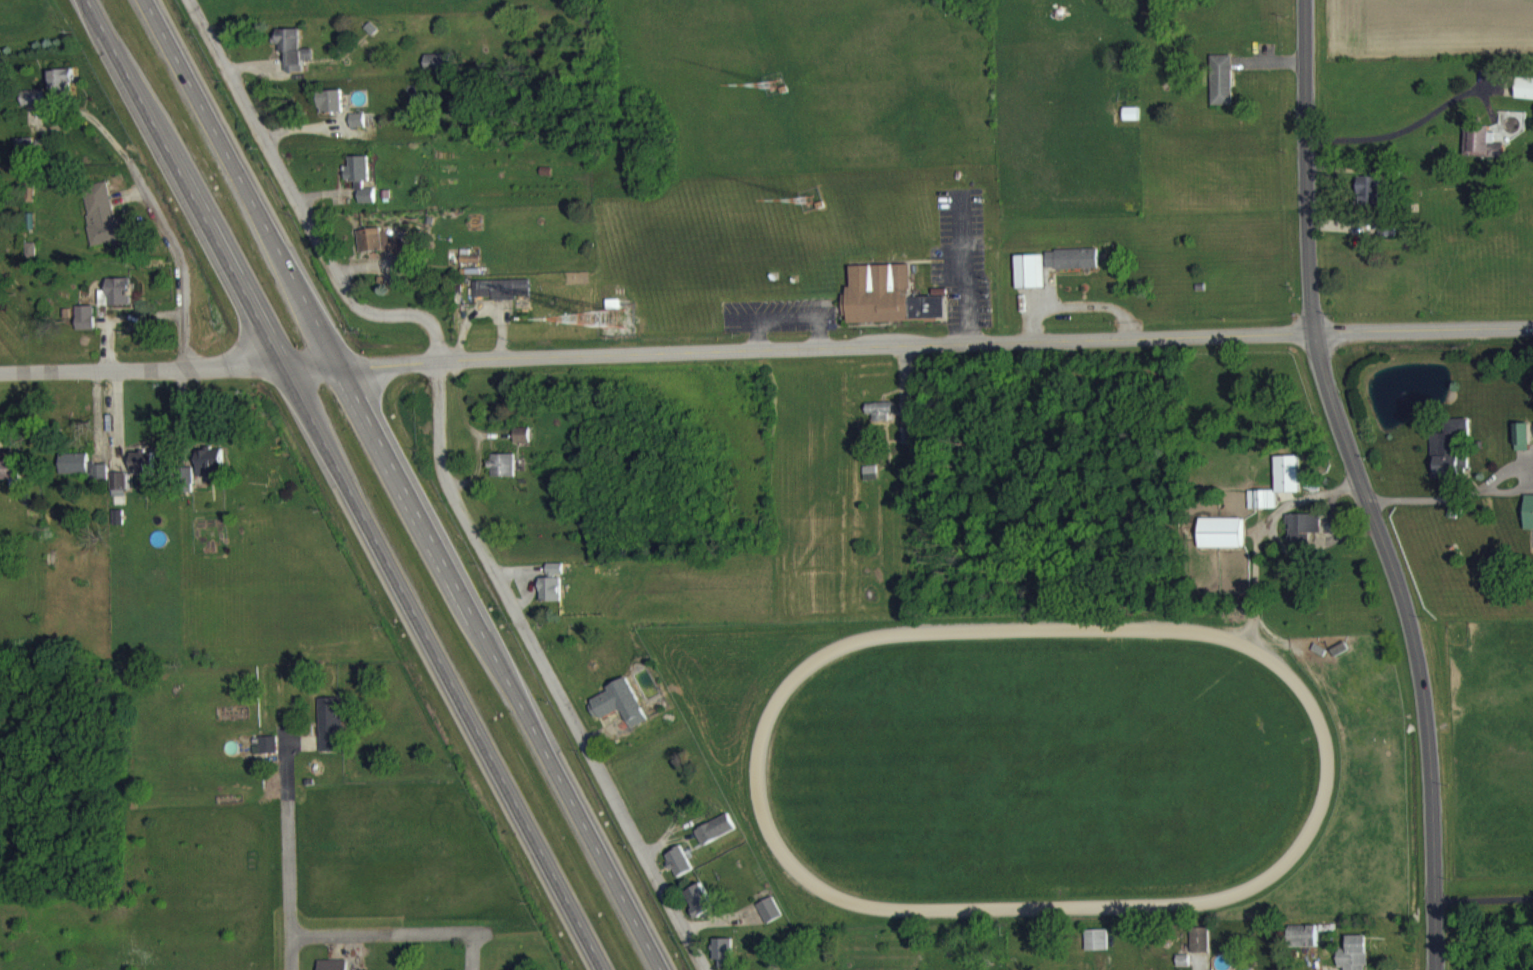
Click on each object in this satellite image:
building: (1146, 0)
building: (293, 61)
building: (1221, 91)
building: (61, 93)
building: (1525, 99)
building: (330, 113)
road: (1401, 129)
building: (357, 131)
building: (1481, 151)
building: (360, 189)
building: (1368, 201)
building: (29, 203)
road: (165, 223)
building: (102, 226)
building: (382, 252)
building: (468, 268)
building: (1072, 270)
building: (1029, 282)
building: (500, 300)
building: (118, 303)
building: (887, 308)
road: (123, 315)
building: (85, 328)
road: (766, 347)
building: (879, 422)
building: (521, 446)
building: (1521, 447)
building: (1449, 456)
road: (441, 464)
building: (141, 472)
building: (210, 473)
building: (502, 476)
building: (82, 477)
building: (10, 480)
road: (343, 483)
road: (406, 485)
building: (1287, 485)
road: (1362, 485)
building: (118, 495)
road: (1441, 498)
building: (1262, 510)
building: (1528, 523)
road: (1258, 531)
building: (1301, 539)
building: (1222, 544)
building: (554, 580)
building: (549, 600)
building: (618, 714)
building: (330, 736)
building: (714, 840)
road: (286, 849)
building: (678, 872)
road: (1483, 898)
building: (699, 912)
building: (768, 921)
road: (389, 931)
building: (1302, 947)
building: (1095, 951)
building: (1199, 951)
building: (722, 959)
building: (1353, 959)

